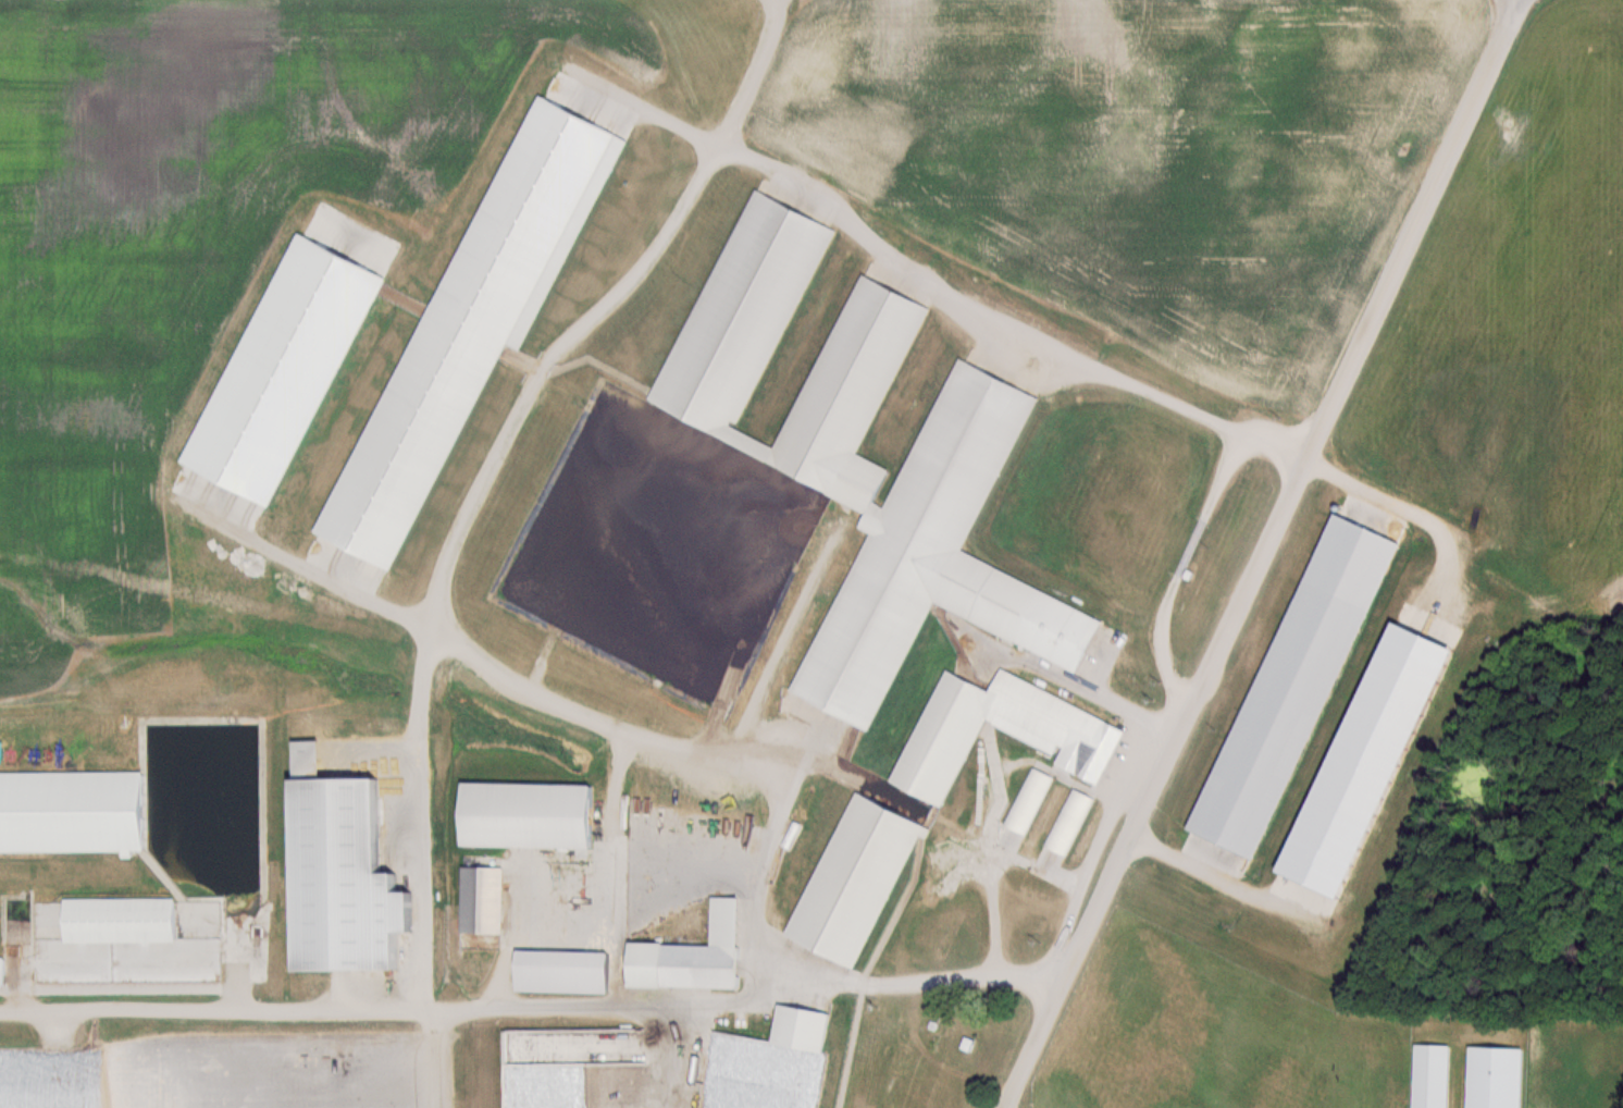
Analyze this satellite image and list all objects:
road: (930, 279)
building: (833, 465)
road: (1243, 549)
road: (1164, 556)
road: (529, 681)
building: (1070, 736)
building: (1029, 800)
building: (75, 812)
building: (532, 815)
building: (1069, 821)
building: (859, 878)
building: (335, 884)
building: (485, 899)
building: (124, 921)
building: (697, 956)
building: (558, 959)
road: (559, 993)
road: (215, 1009)
building: (803, 1029)
building: (1434, 1075)
building: (1500, 1078)
building: (933, 1092)
building: (548, 1107)
road: (983, 1107)

